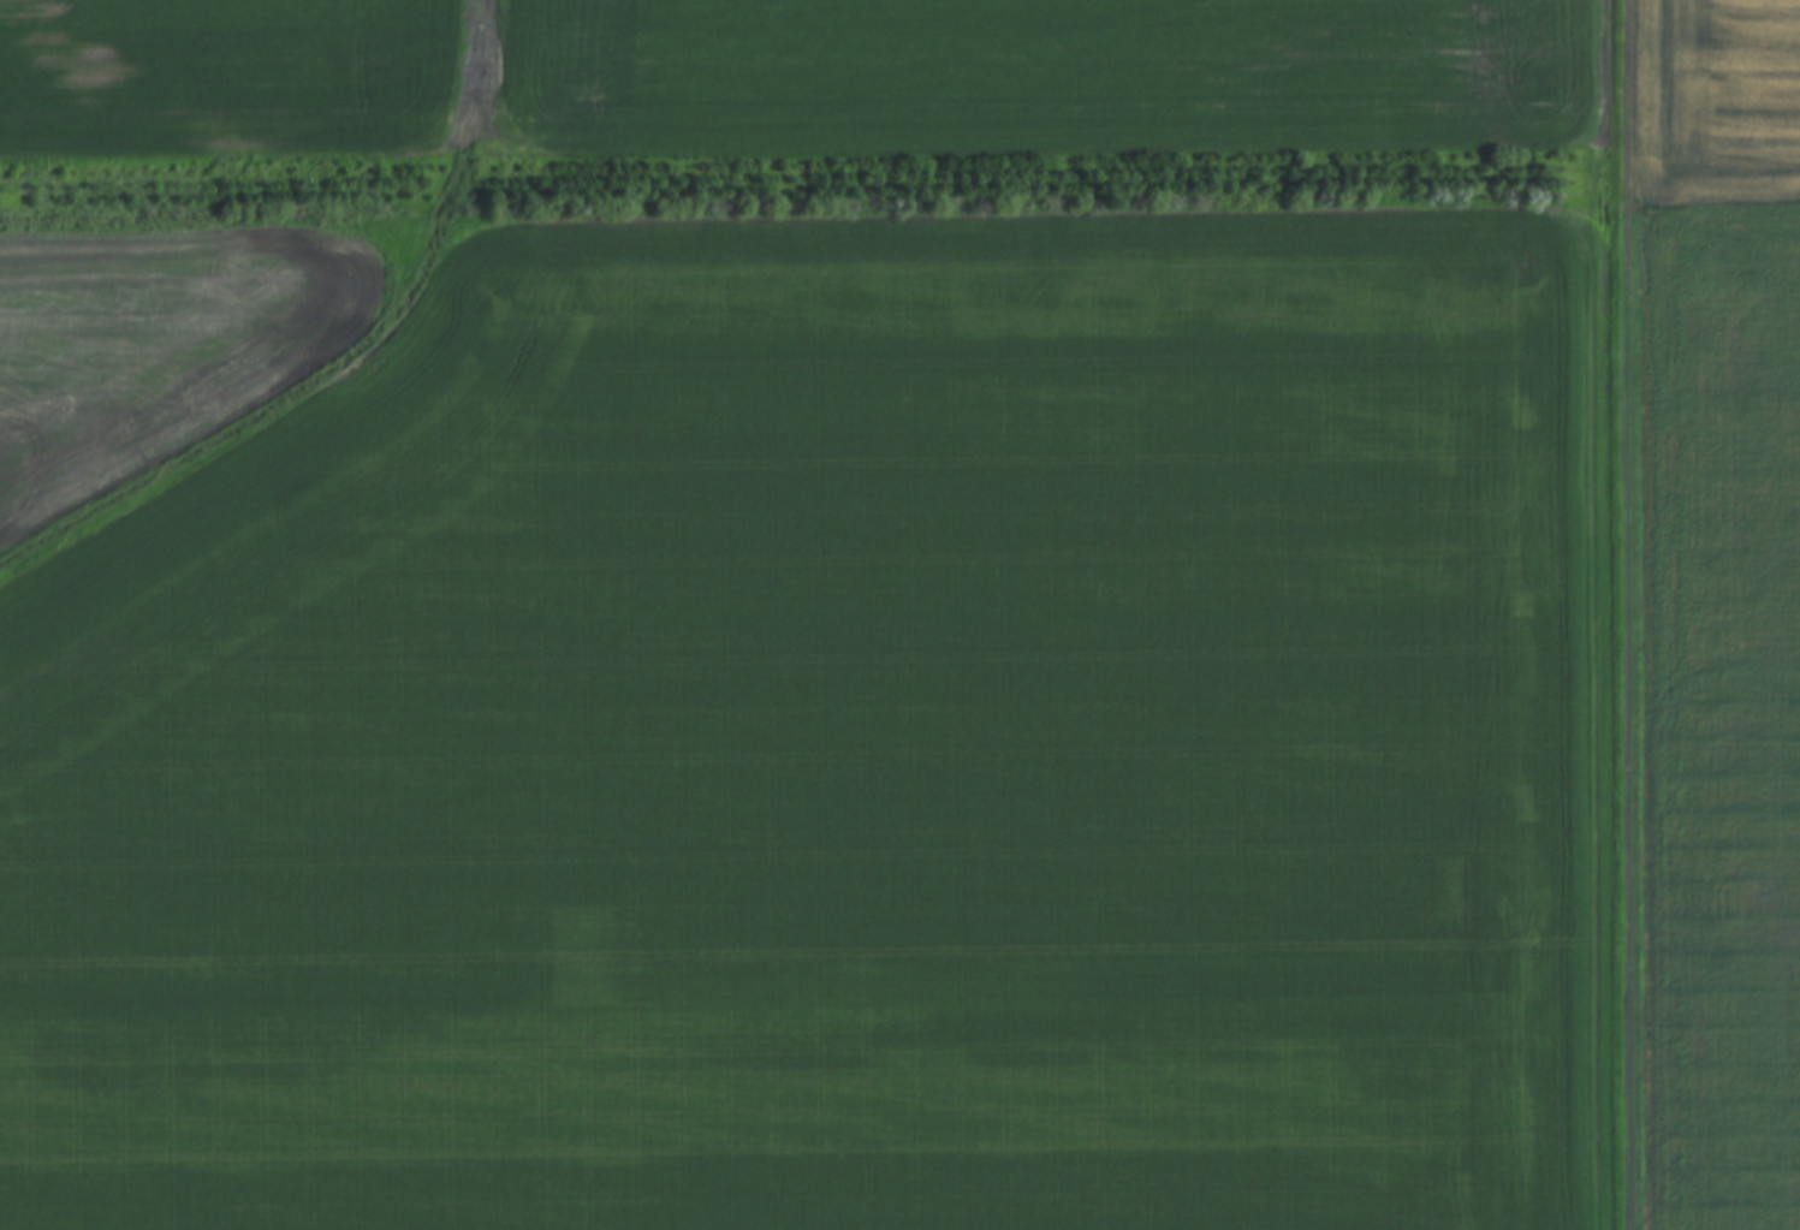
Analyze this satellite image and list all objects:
road: (1633, 614)

